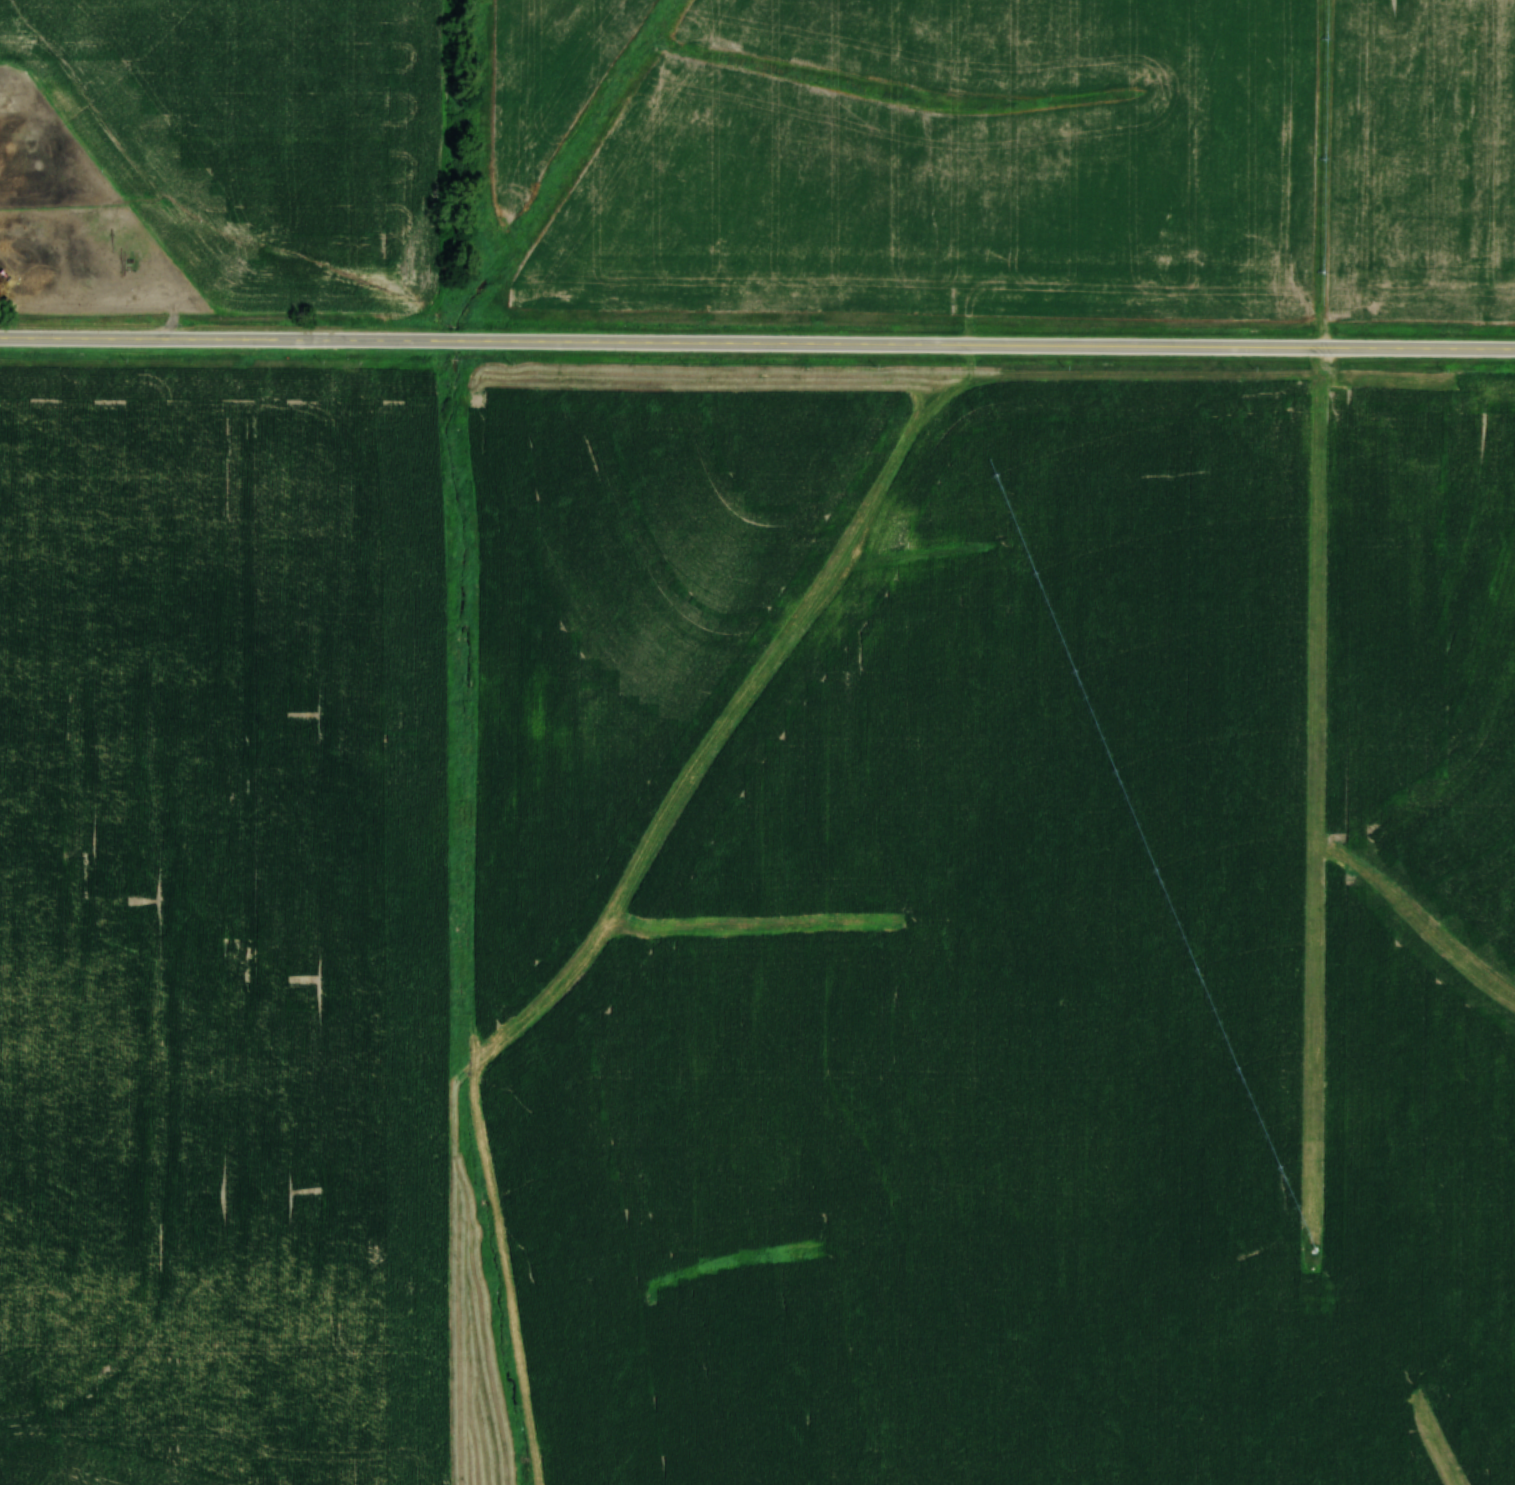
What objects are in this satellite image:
road: (757, 339)

